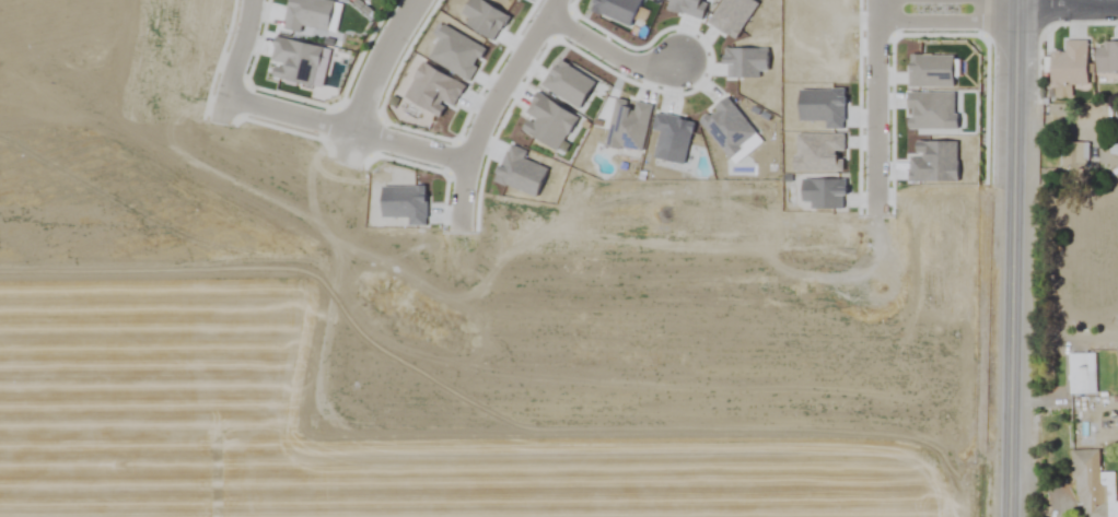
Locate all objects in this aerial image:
road: (1068, 7)
road: (945, 25)
road: (608, 49)
building: (1106, 58)
road: (236, 60)
building: (1069, 66)
road: (372, 78)
road: (872, 104)
road: (291, 116)
road: (479, 129)
building: (1074, 156)
crop: (559, 258)
road: (1014, 258)
building: (1082, 374)
building: (1093, 485)

